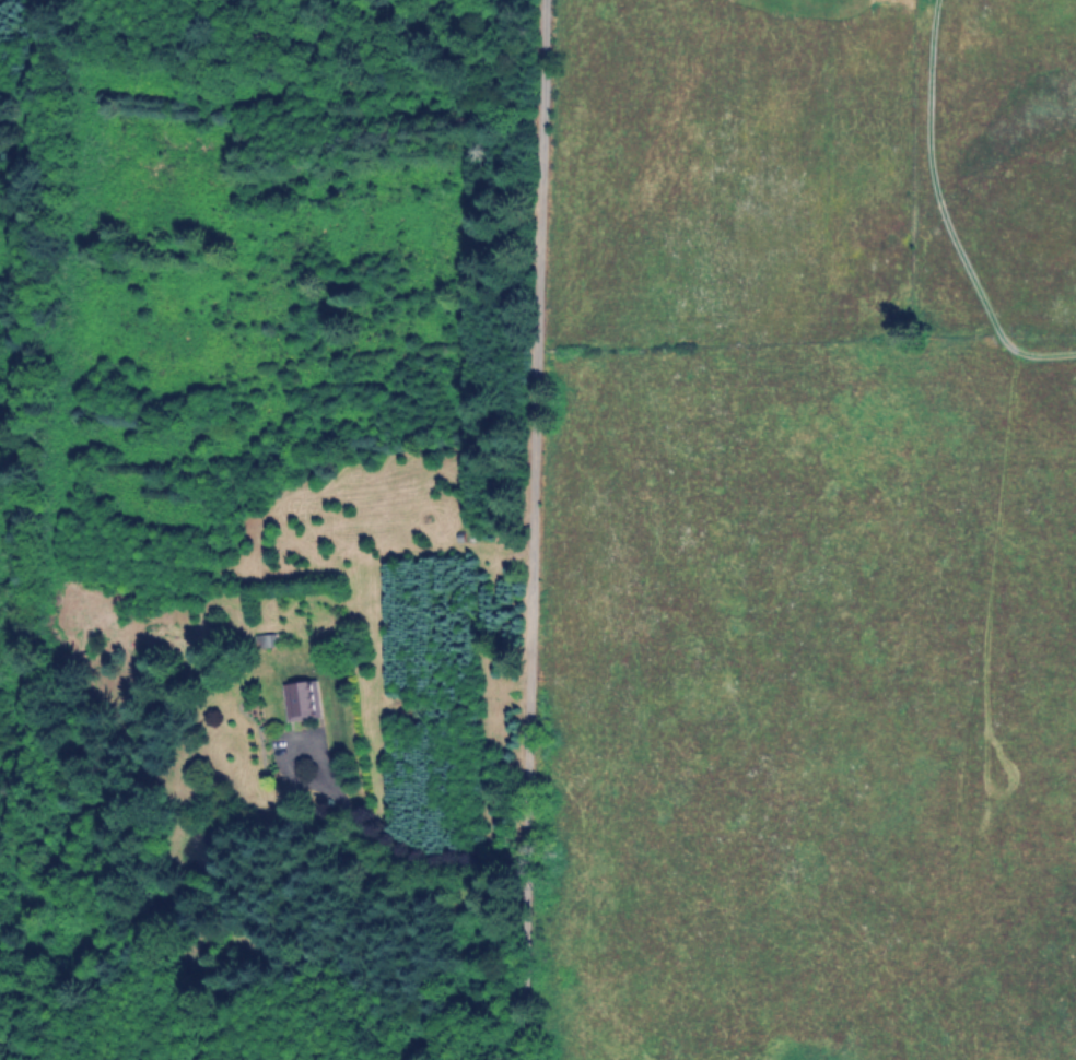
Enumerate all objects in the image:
road: (529, 530)
building: (267, 640)
building: (304, 699)
road: (389, 848)

